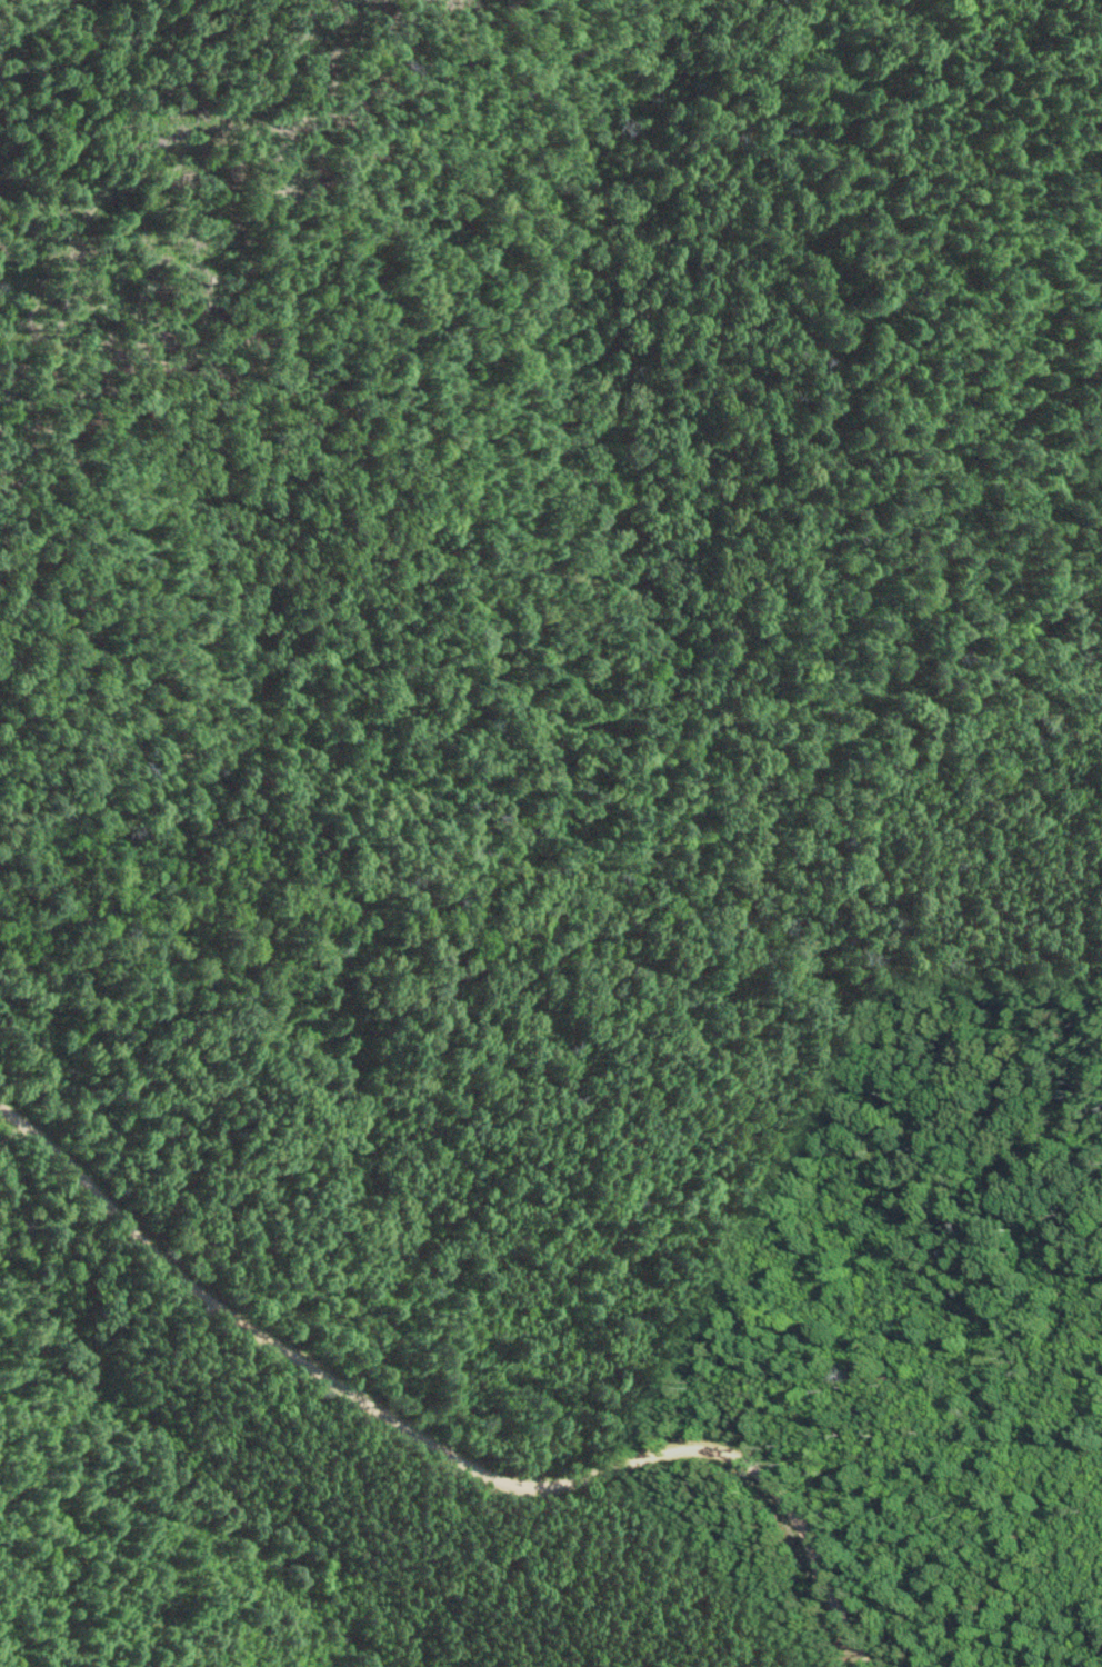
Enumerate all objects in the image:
road: (199, 144)
road: (83, 257)
road: (448, 1448)

